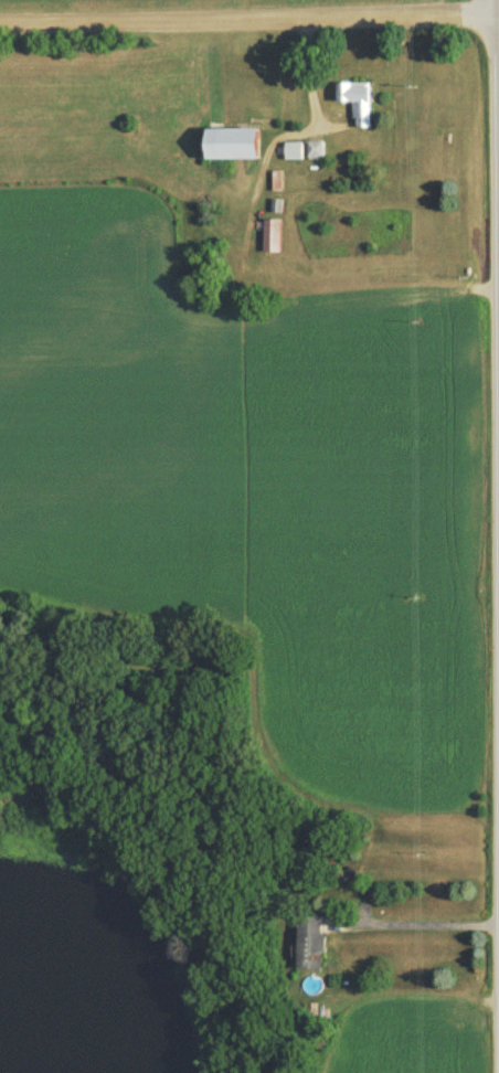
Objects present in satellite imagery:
road: (250, 22)
building: (358, 105)
building: (232, 148)
building: (294, 155)
road: (424, 927)
building: (312, 946)

